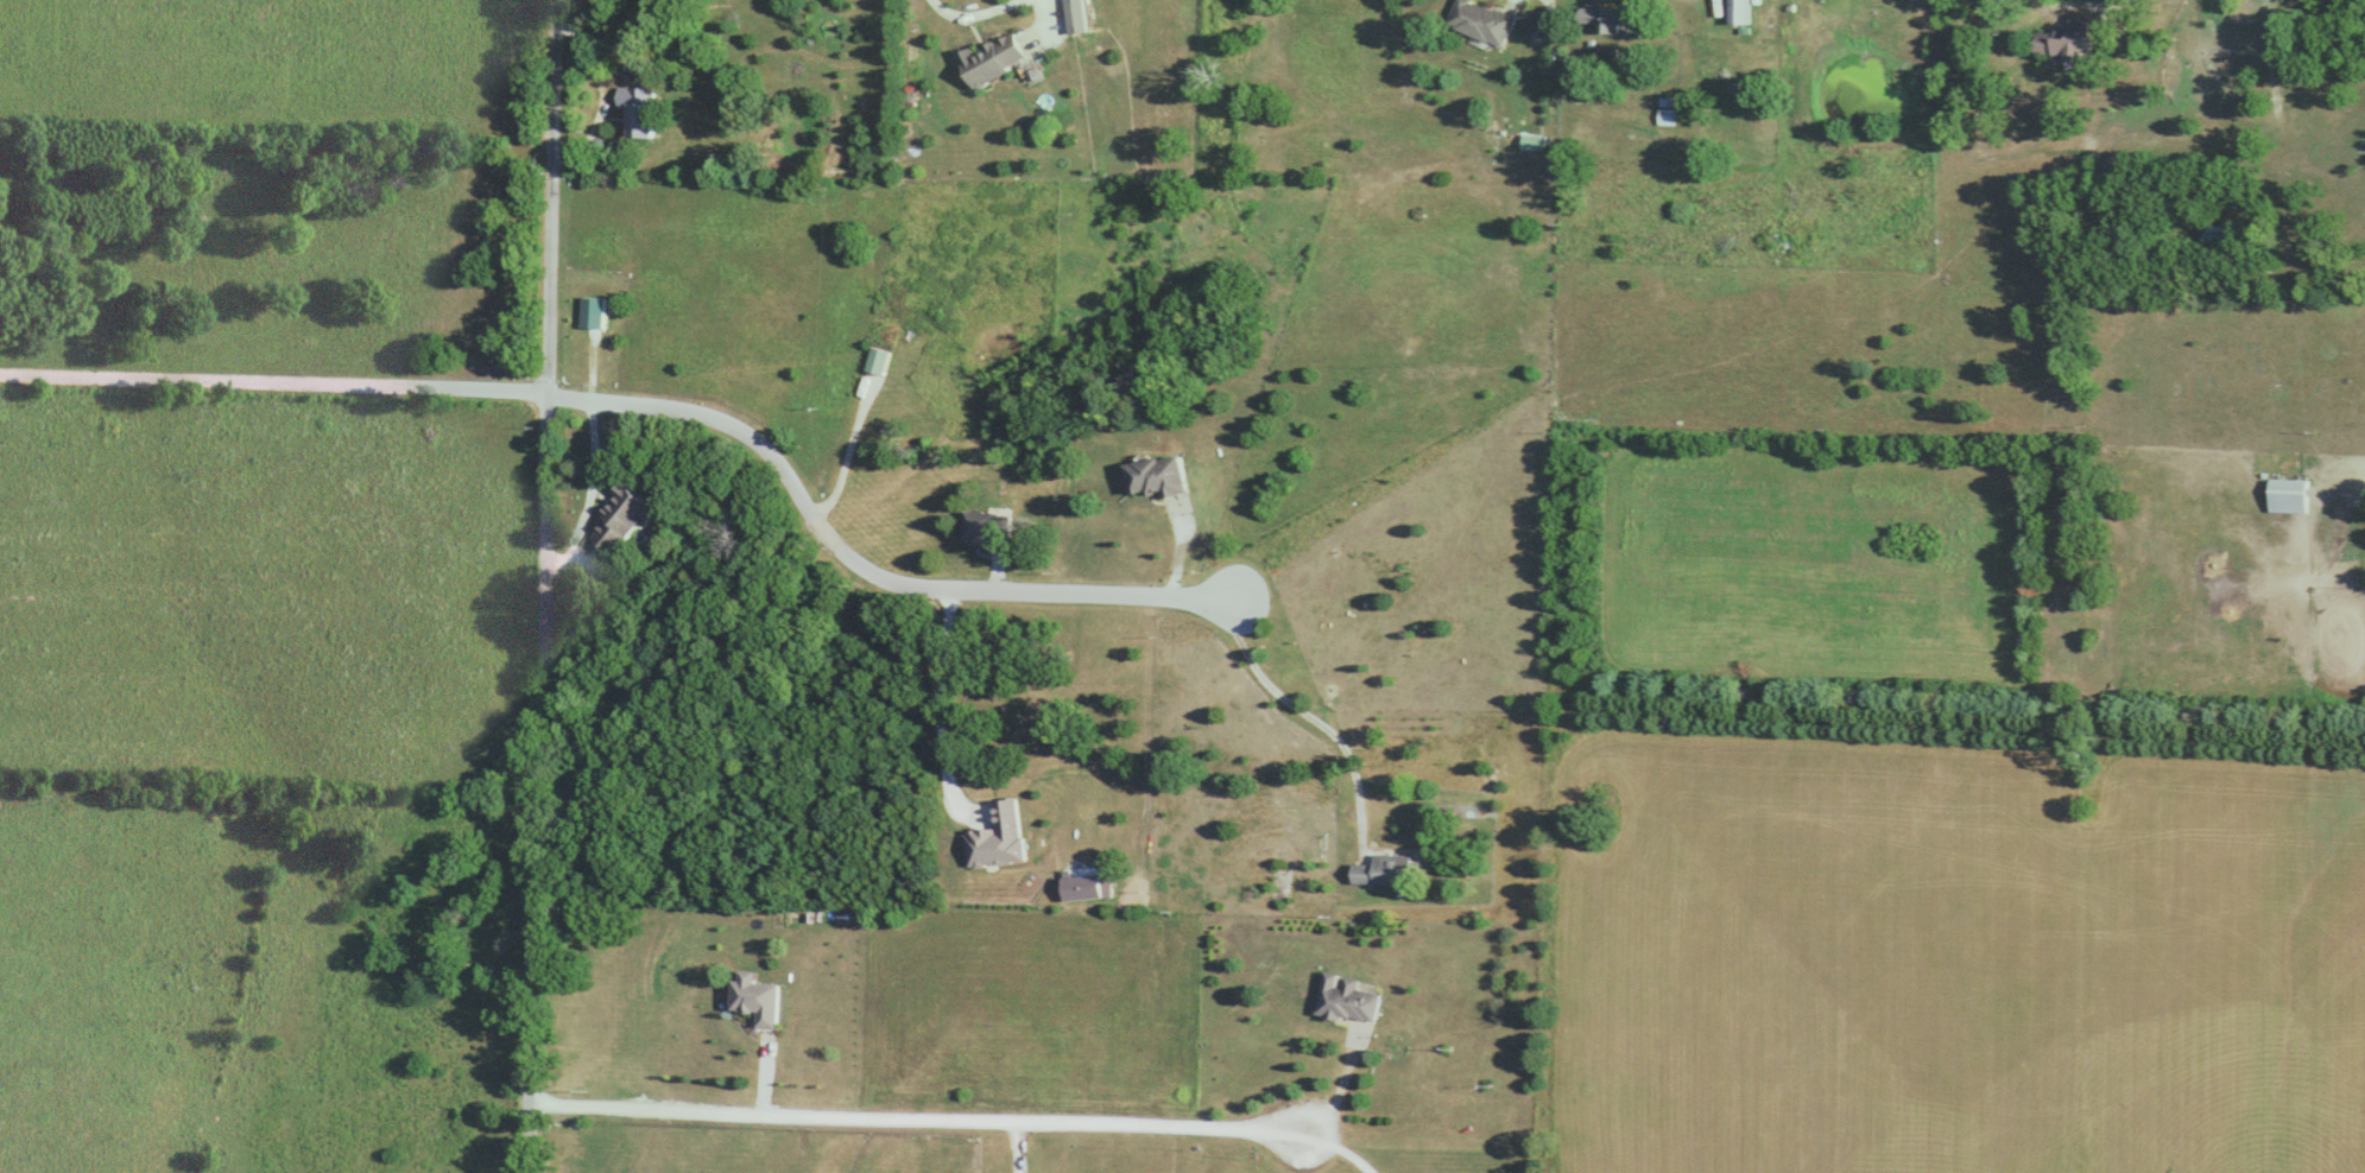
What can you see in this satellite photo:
building: (1744, 12)
building: (1080, 15)
building: (1615, 17)
road: (2081, 17)
building: (1484, 20)
building: (1544, 23)
building: (2068, 40)
building: (999, 58)
building: (639, 109)
building: (1536, 141)
building: (2219, 239)
building: (595, 312)
building: (879, 361)
road: (274, 387)
road: (847, 448)
building: (1162, 476)
building: (2289, 495)
road: (594, 499)
building: (625, 516)
building: (989, 531)
road: (866, 568)
road: (544, 585)
road: (937, 698)
road: (1315, 716)
building: (1001, 838)
building: (1390, 870)
building: (758, 998)
building: (1349, 1000)
road: (1341, 1091)
road: (916, 1116)
road: (1338, 1146)

